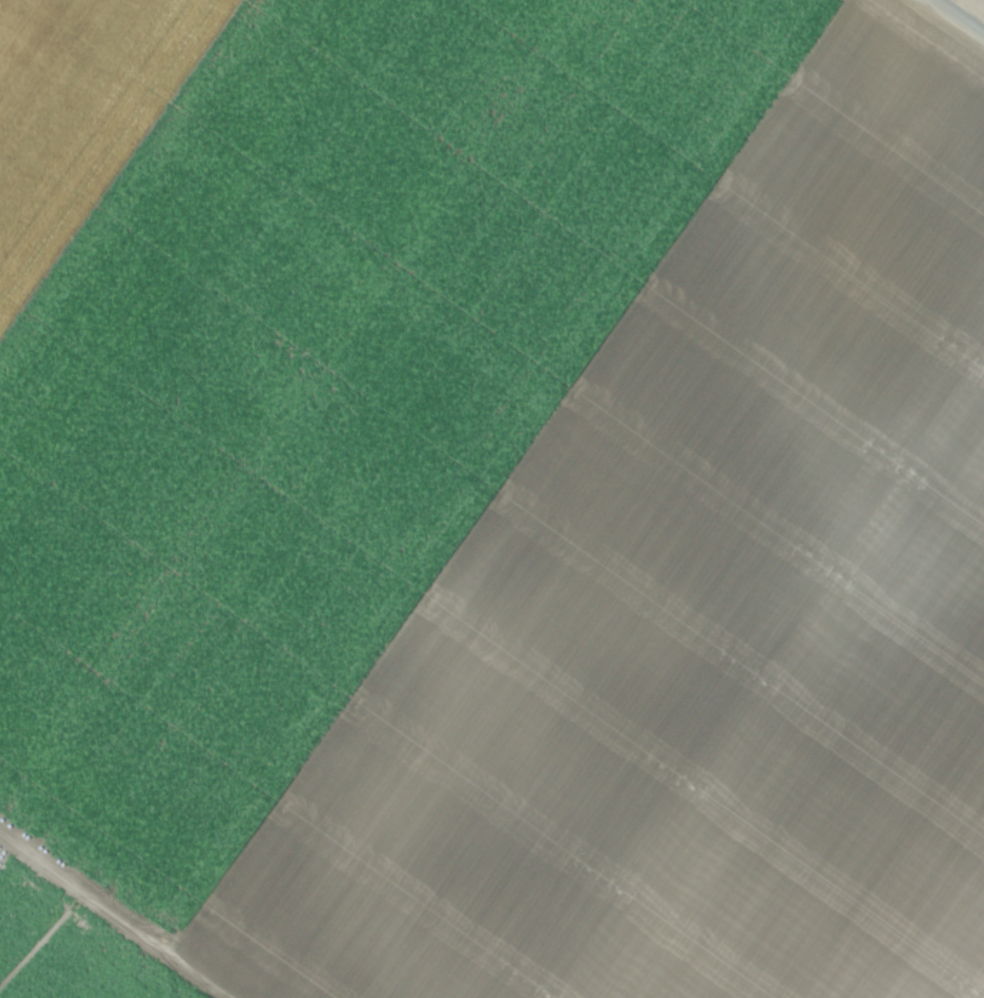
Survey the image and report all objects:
road: (958, 18)
crop: (491, 499)

